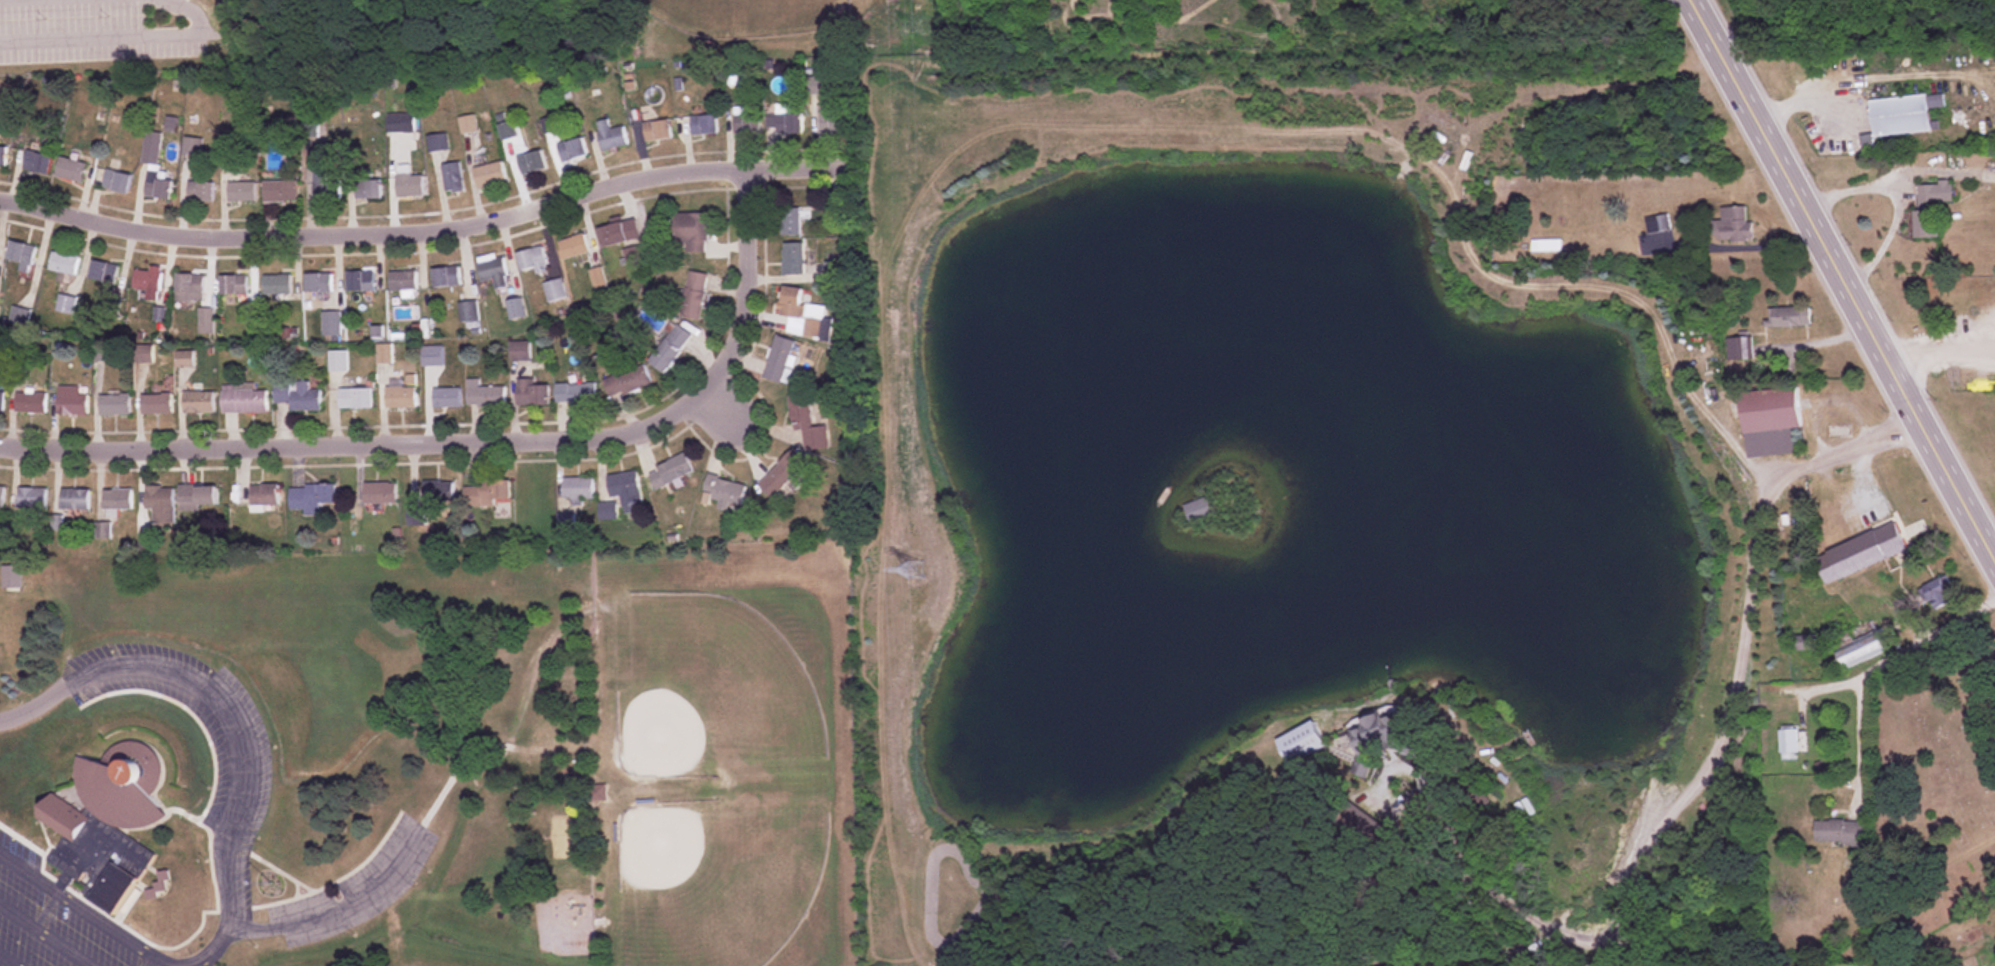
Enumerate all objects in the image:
road: (188, 11)
park: (745, 14)
road: (100, 40)
building: (815, 86)
building: (1903, 114)
building: (787, 120)
building: (831, 121)
building: (400, 123)
building: (747, 123)
building: (467, 124)
building: (703, 125)
building: (657, 130)
building: (506, 131)
building: (610, 136)
building: (437, 143)
building: (1867, 143)
building: (571, 150)
road: (1416, 151)
building: (2, 155)
building: (36, 162)
building: (531, 163)
building: (155, 168)
building: (69, 170)
building: (489, 175)
building: (451, 176)
building: (116, 182)
building: (408, 183)
building: (325, 187)
building: (368, 189)
building: (281, 190)
building: (200, 191)
building: (242, 191)
building: (1935, 193)
building: (834, 215)
building: (791, 221)
building: (1657, 224)
building: (1733, 224)
building: (1926, 224)
road: (451, 227)
building: (692, 231)
building: (619, 233)
building: (1545, 246)
building: (573, 247)
building: (20, 255)
building: (793, 259)
building: (532, 260)
building: (63, 264)
building: (492, 271)
building: (102, 273)
road: (1842, 277)
building: (445, 278)
building: (598, 279)
building: (359, 281)
building: (147, 282)
building: (403, 282)
building: (318, 283)
building: (277, 284)
building: (233, 285)
building: (189, 288)
building: (554, 290)
building: (694, 294)
building: (517, 309)
building: (799, 311)
building: (468, 313)
building: (1788, 317)
building: (205, 321)
building: (331, 323)
road: (1940, 345)
building: (671, 348)
building: (1739, 349)
building: (383, 354)
building: (432, 357)
building: (184, 359)
building: (780, 359)
building: (337, 361)
building: (627, 382)
building: (532, 393)
building: (576, 393)
building: (484, 395)
building: (297, 396)
building: (400, 398)
building: (355, 399)
building: (446, 399)
building: (243, 400)
building: (1, 401)
building: (71, 402)
building: (198, 402)
building: (30, 403)
building: (156, 404)
building: (114, 405)
road: (727, 410)
building: (1771, 410)
building: (808, 424)
road: (475, 440)
road: (1845, 445)
building: (671, 471)
building: (783, 473)
building: (578, 489)
building: (626, 490)
building: (438, 492)
building: (488, 493)
building: (726, 493)
building: (379, 494)
building: (264, 495)
building: (1, 496)
building: (197, 497)
building: (310, 498)
building: (31, 499)
building: (74, 500)
building: (117, 500)
building: (160, 504)
building: (1197, 510)
building: (608, 511)
building: (415, 517)
building: (1860, 554)
power tower: (917, 568)
building: (9, 582)
building: (1938, 594)
building: (1862, 644)
park: (706, 689)
road: (241, 739)
building: (1789, 740)
building: (1351, 743)
park: (1932, 789)
building: (596, 793)
building: (104, 825)
building: (1842, 832)
road: (1962, 849)
park: (715, 876)
road: (79, 902)
road: (342, 903)
road: (49, 933)
road: (12, 957)

